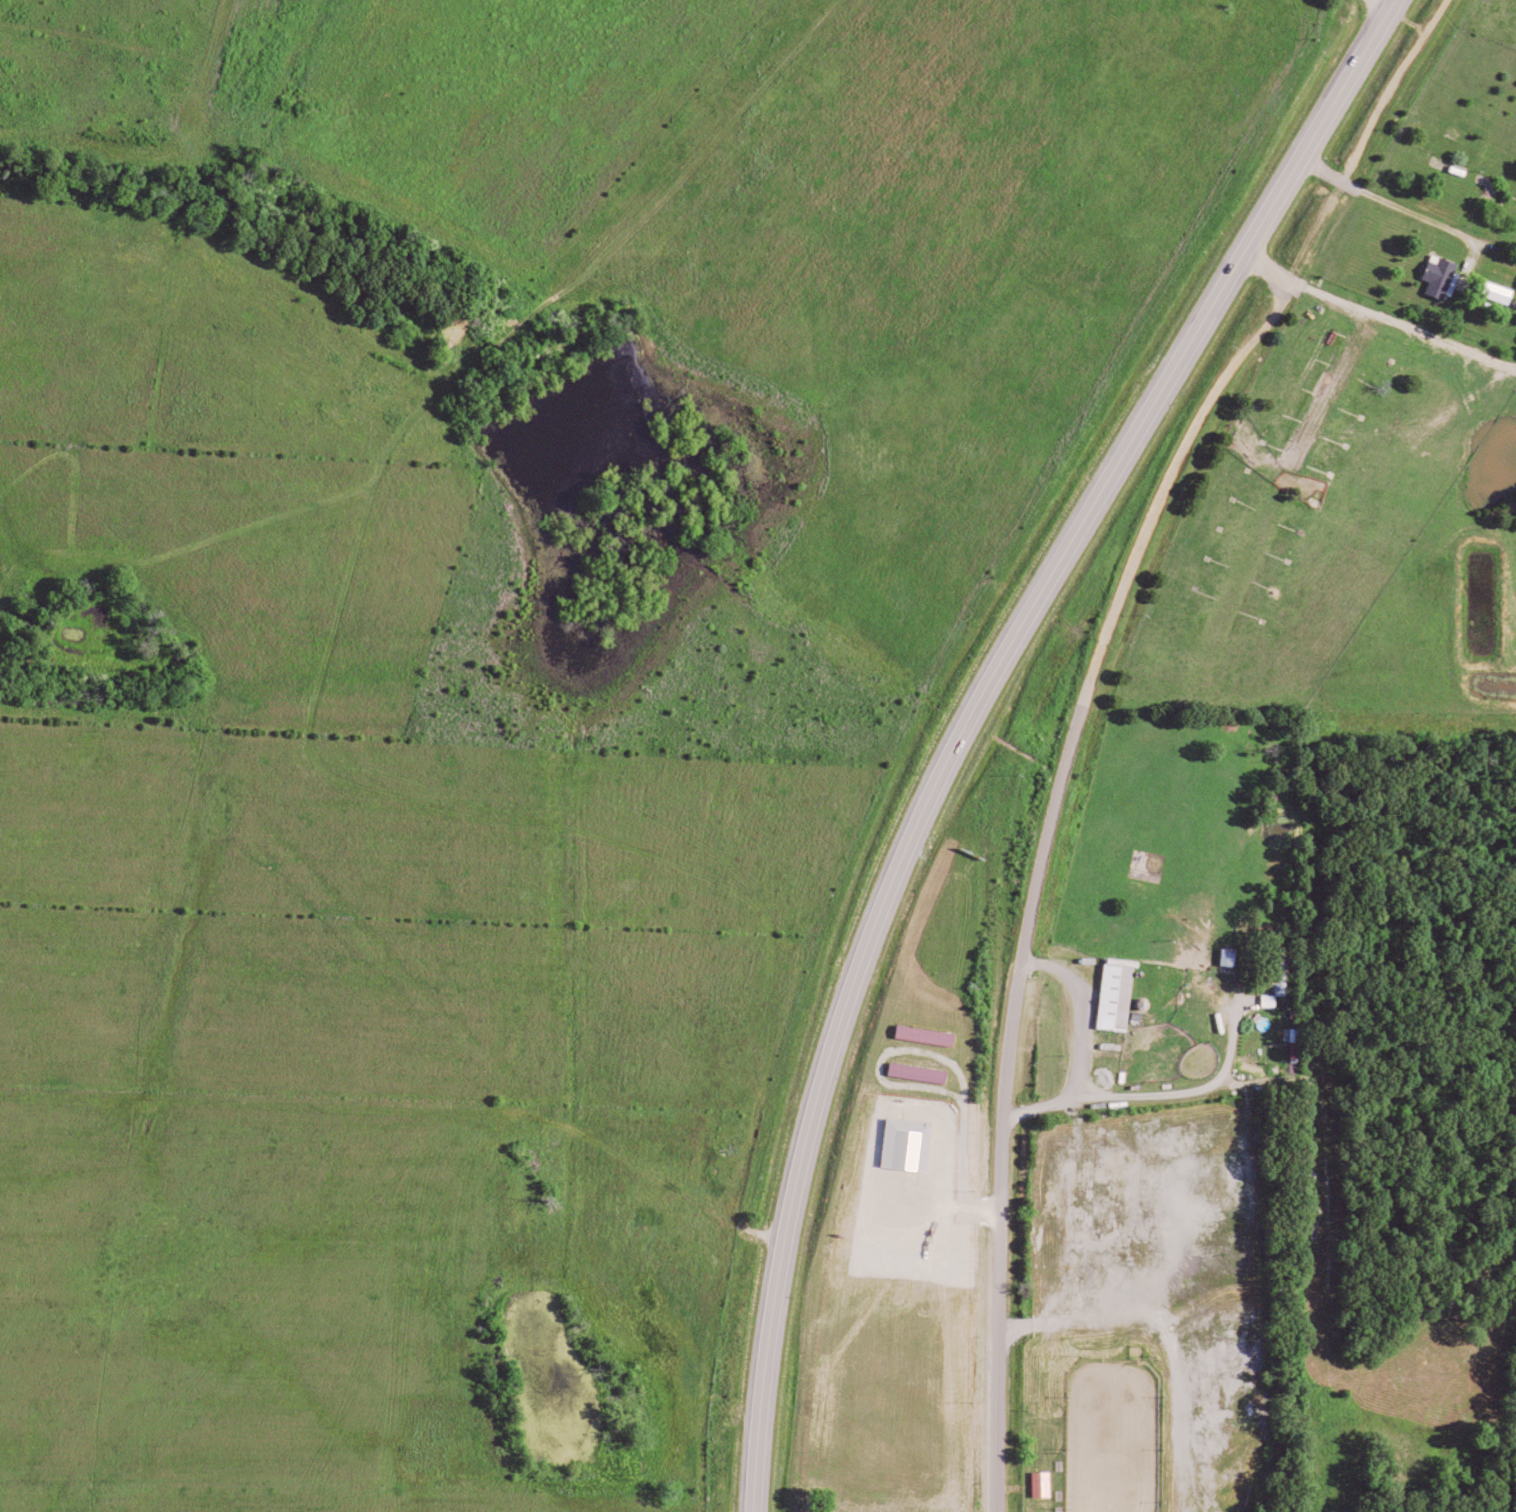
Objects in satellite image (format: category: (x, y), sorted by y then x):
road: (1390, 3)
road: (1308, 148)
building: (1444, 275)
building: (1502, 292)
road: (1185, 458)
road: (1018, 623)
building: (1234, 956)
building: (1284, 970)
road: (1194, 975)
building: (1121, 994)
building: (1273, 1000)
building: (930, 1035)
building: (923, 1072)
building: (913, 1144)
road: (1000, 1235)
road: (784, 1236)
road: (1165, 1344)
building: (1047, 1484)

